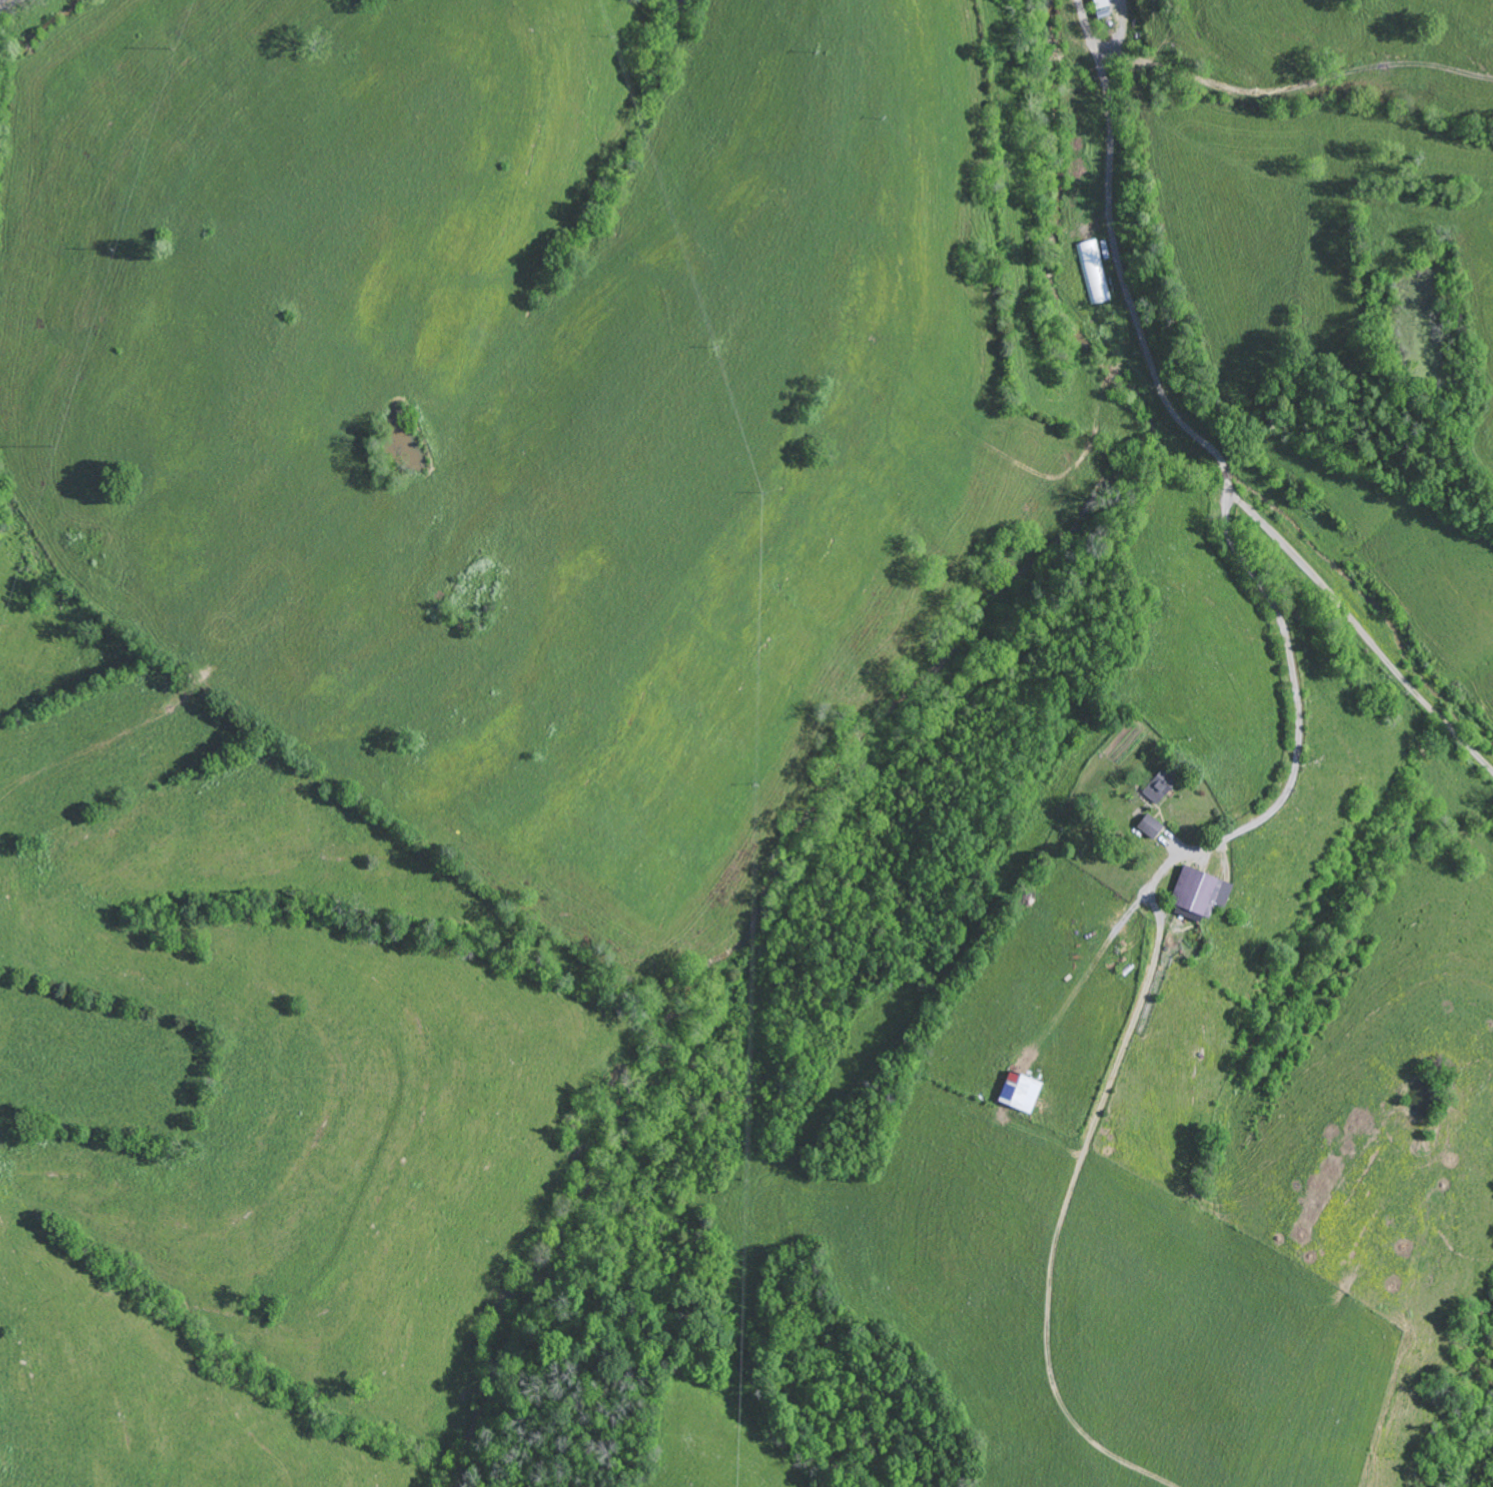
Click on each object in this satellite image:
road: (6, 4)
building: (1104, 4)
power tower: (508, 168)
building: (1094, 274)
power tower: (286, 319)
road: (1188, 435)
road: (1299, 732)
building: (1165, 788)
building: (1156, 828)
building: (1205, 894)
road: (1092, 977)
building: (1026, 1093)

